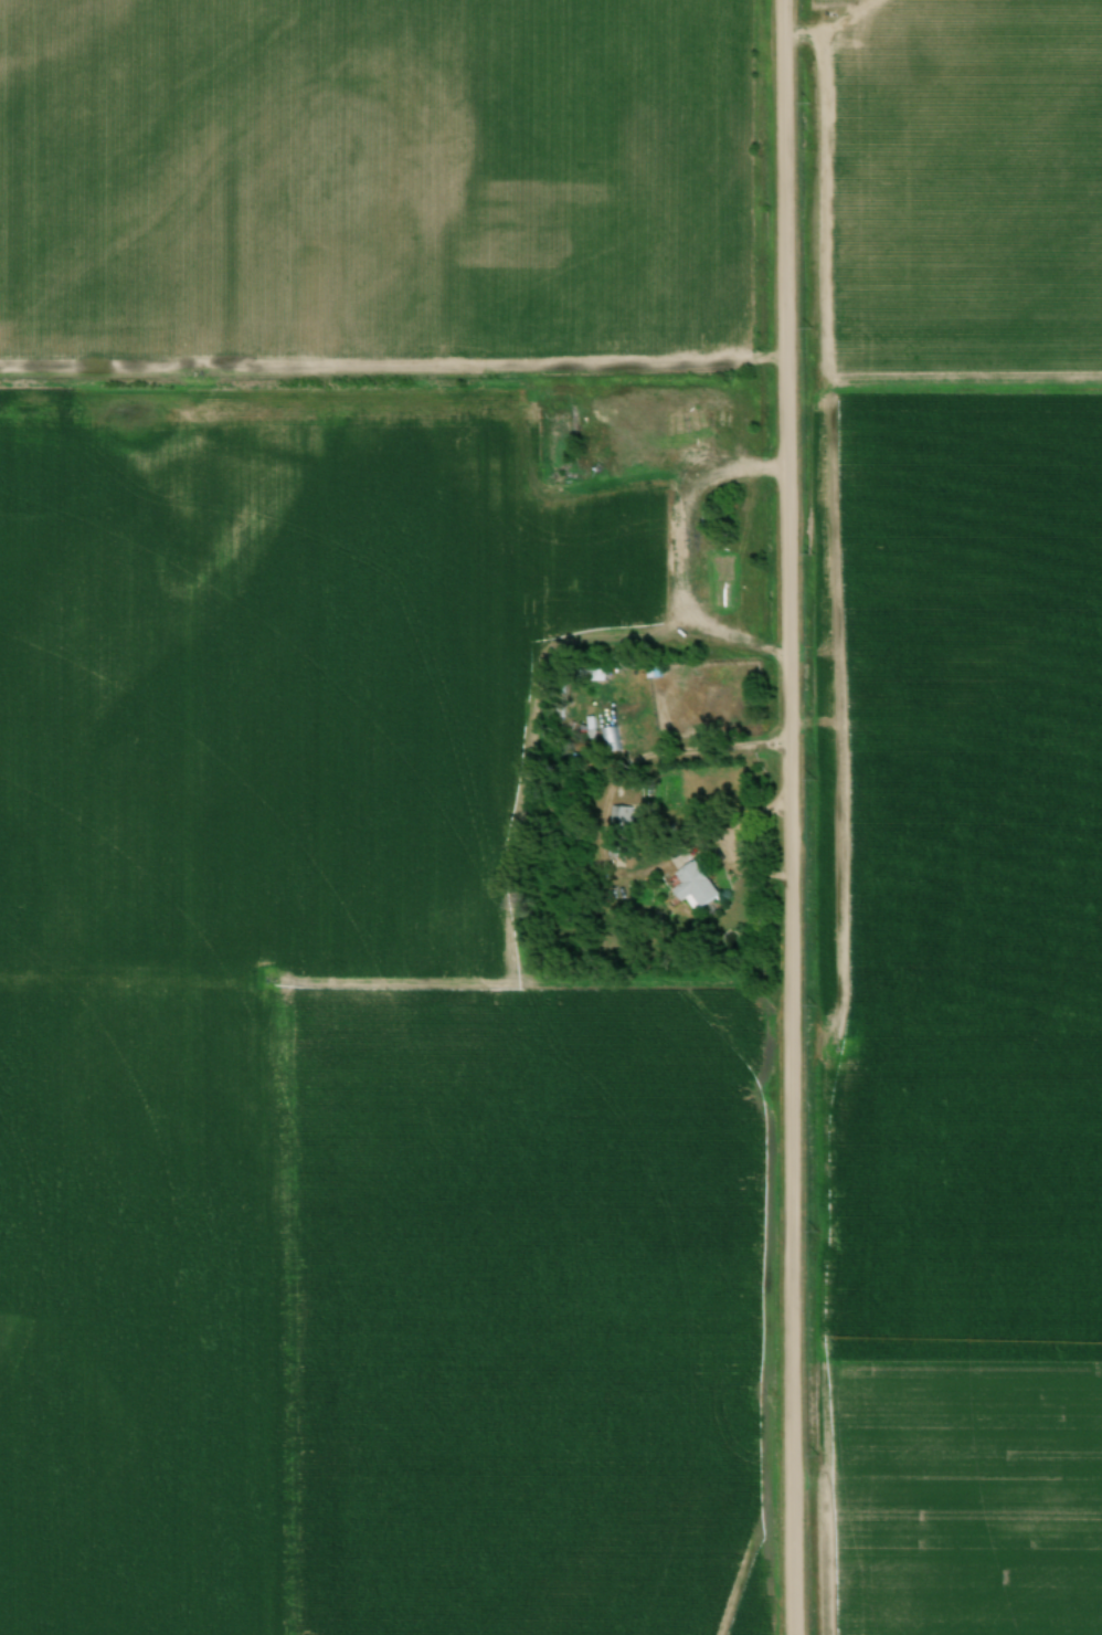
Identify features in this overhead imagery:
road: (721, 471)
building: (720, 595)
building: (611, 740)
road: (786, 818)
building: (621, 831)
road: (601, 832)
building: (695, 885)

